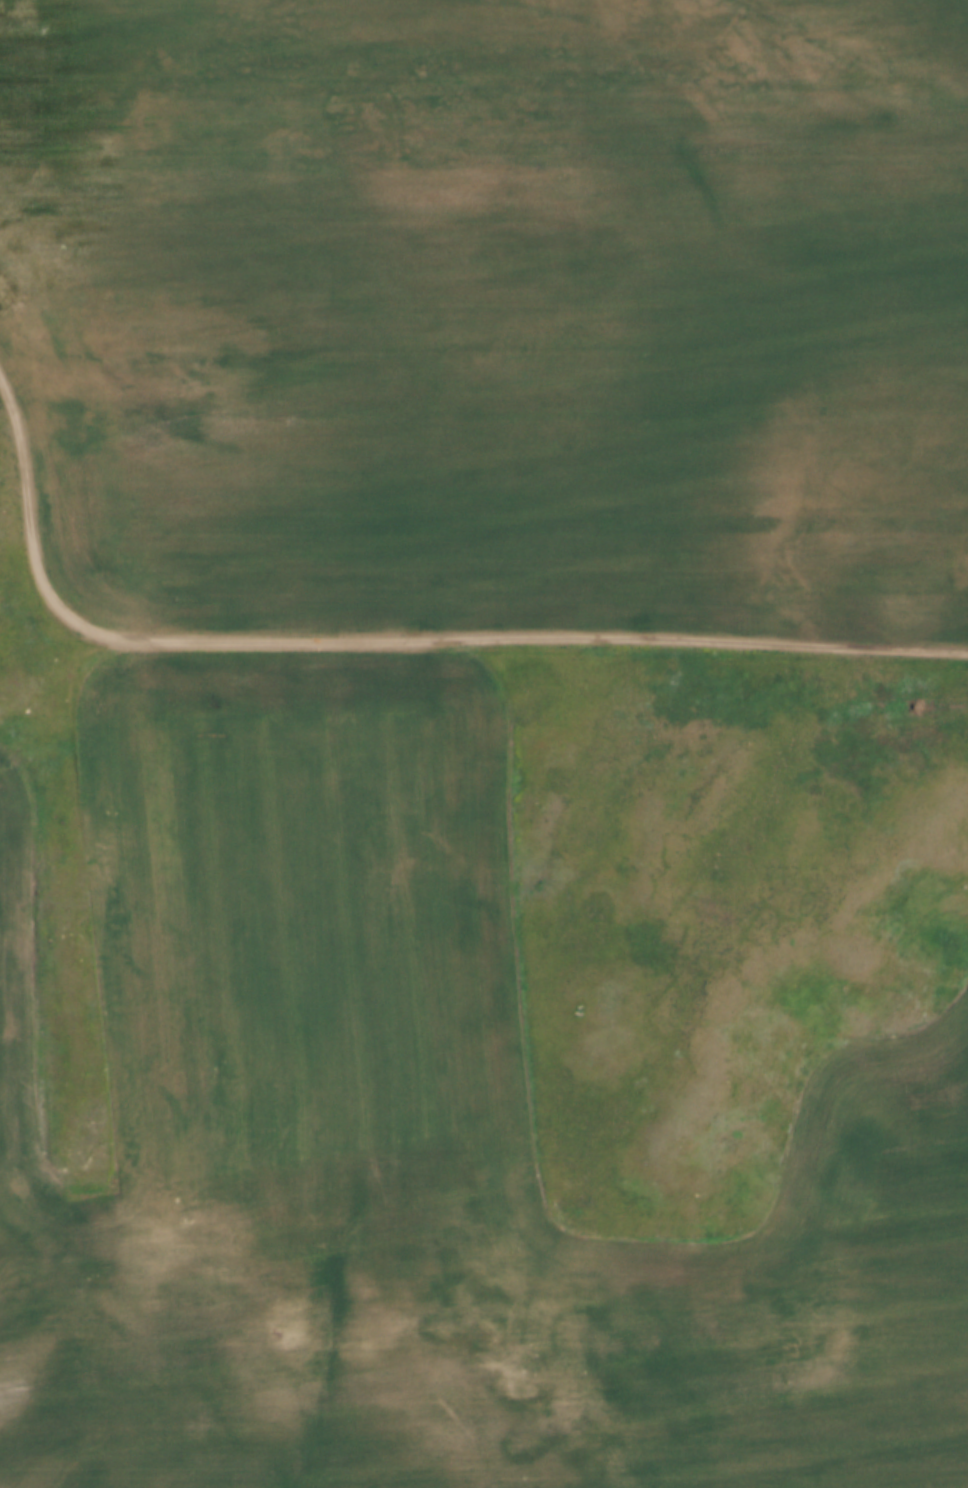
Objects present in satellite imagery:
road: (383, 646)

